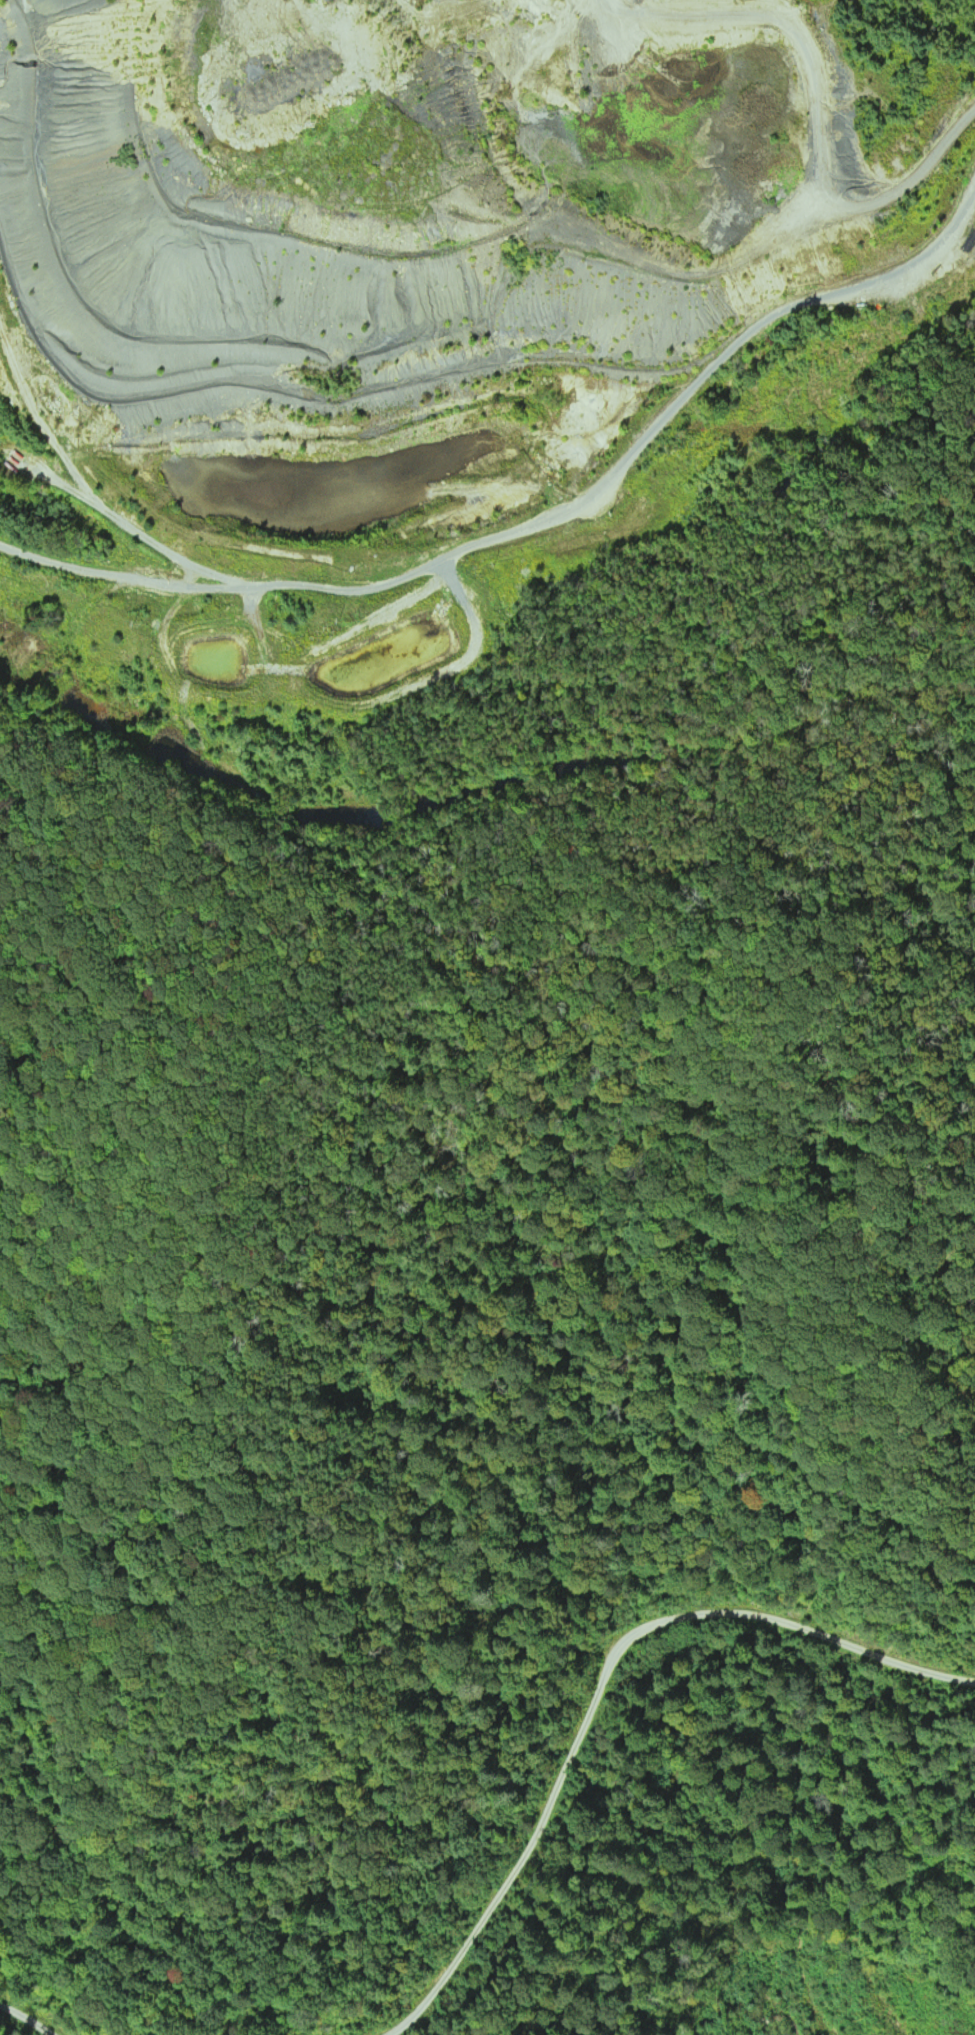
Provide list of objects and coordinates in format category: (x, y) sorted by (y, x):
road: (486, 260)

